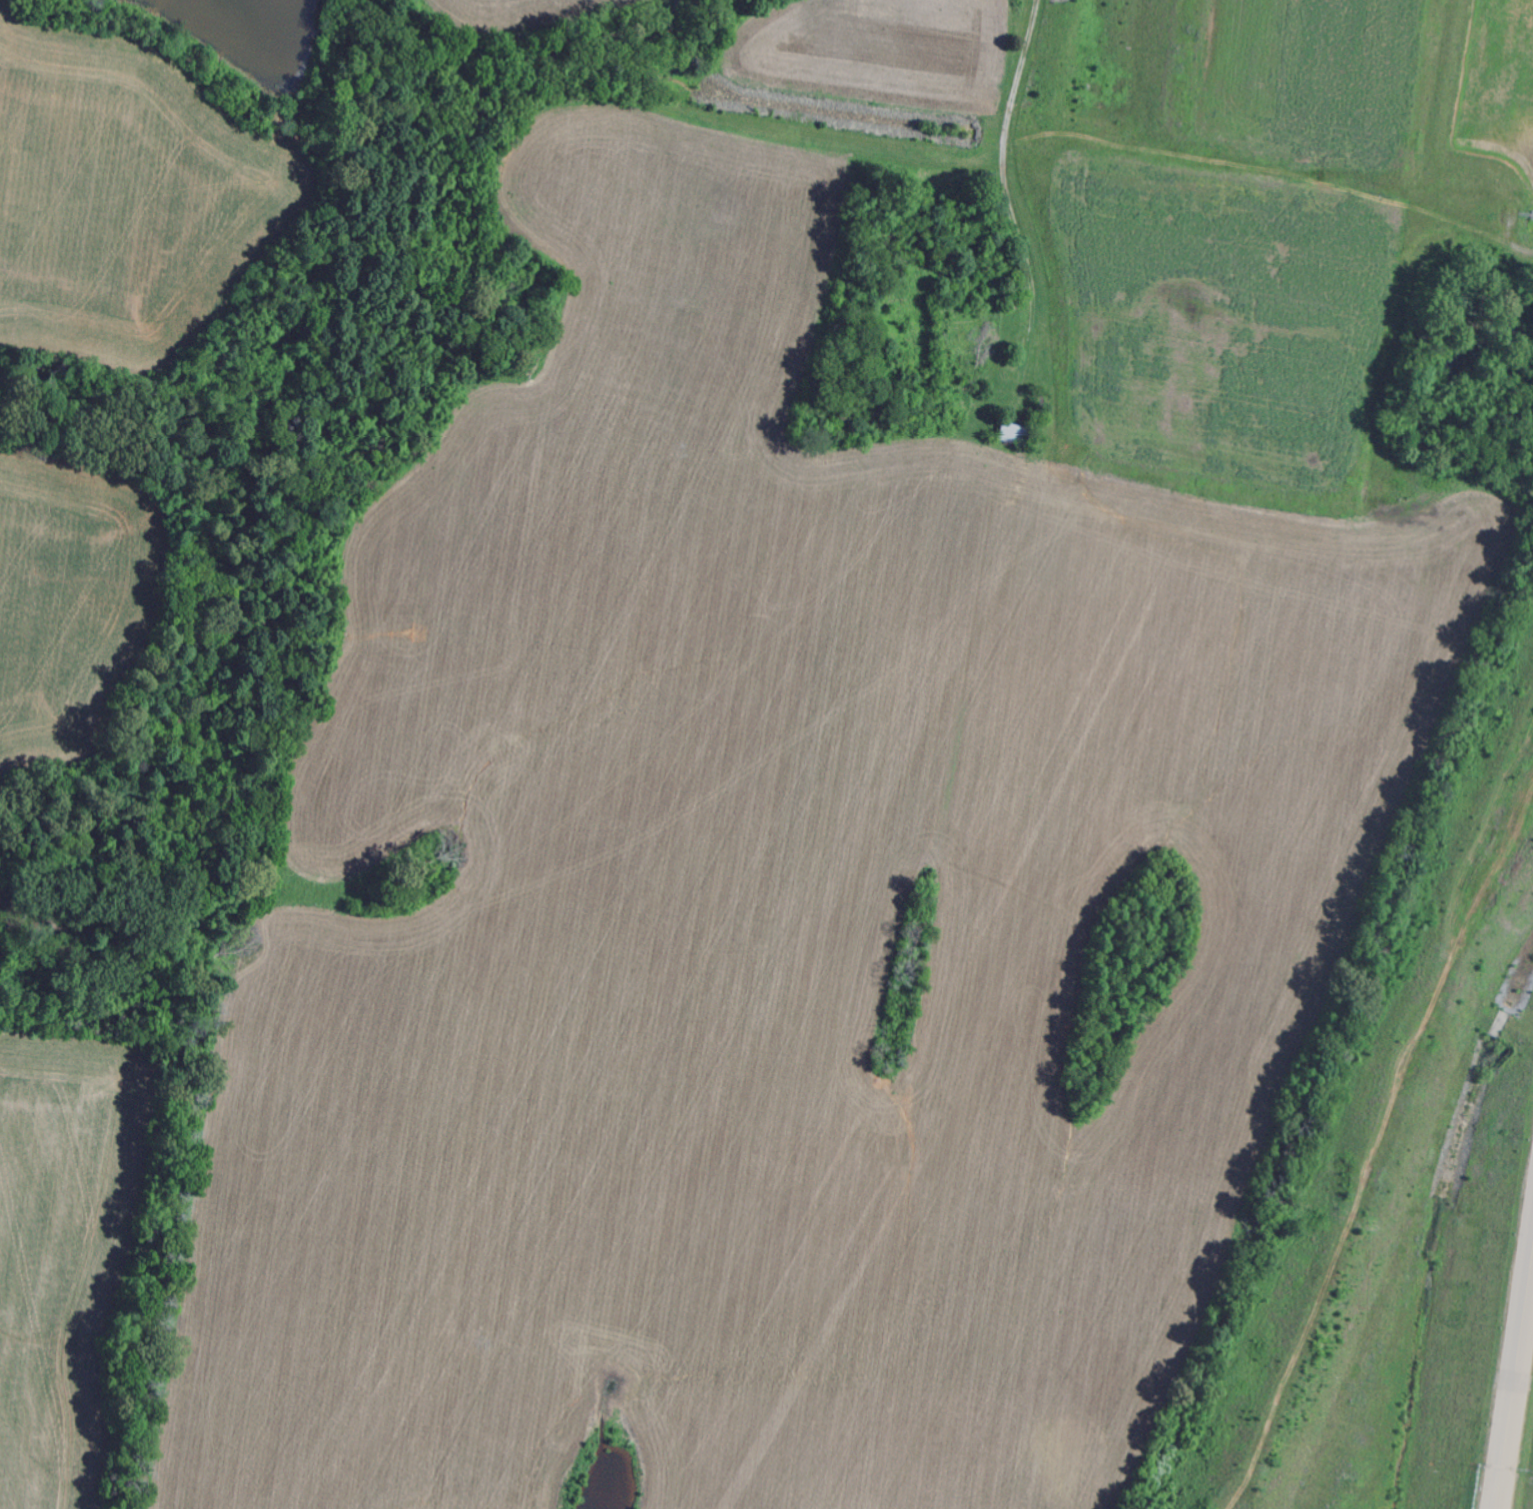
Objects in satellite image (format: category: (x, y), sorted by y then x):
road: (1018, 204)
building: (1012, 434)
road: (1511, 1361)

